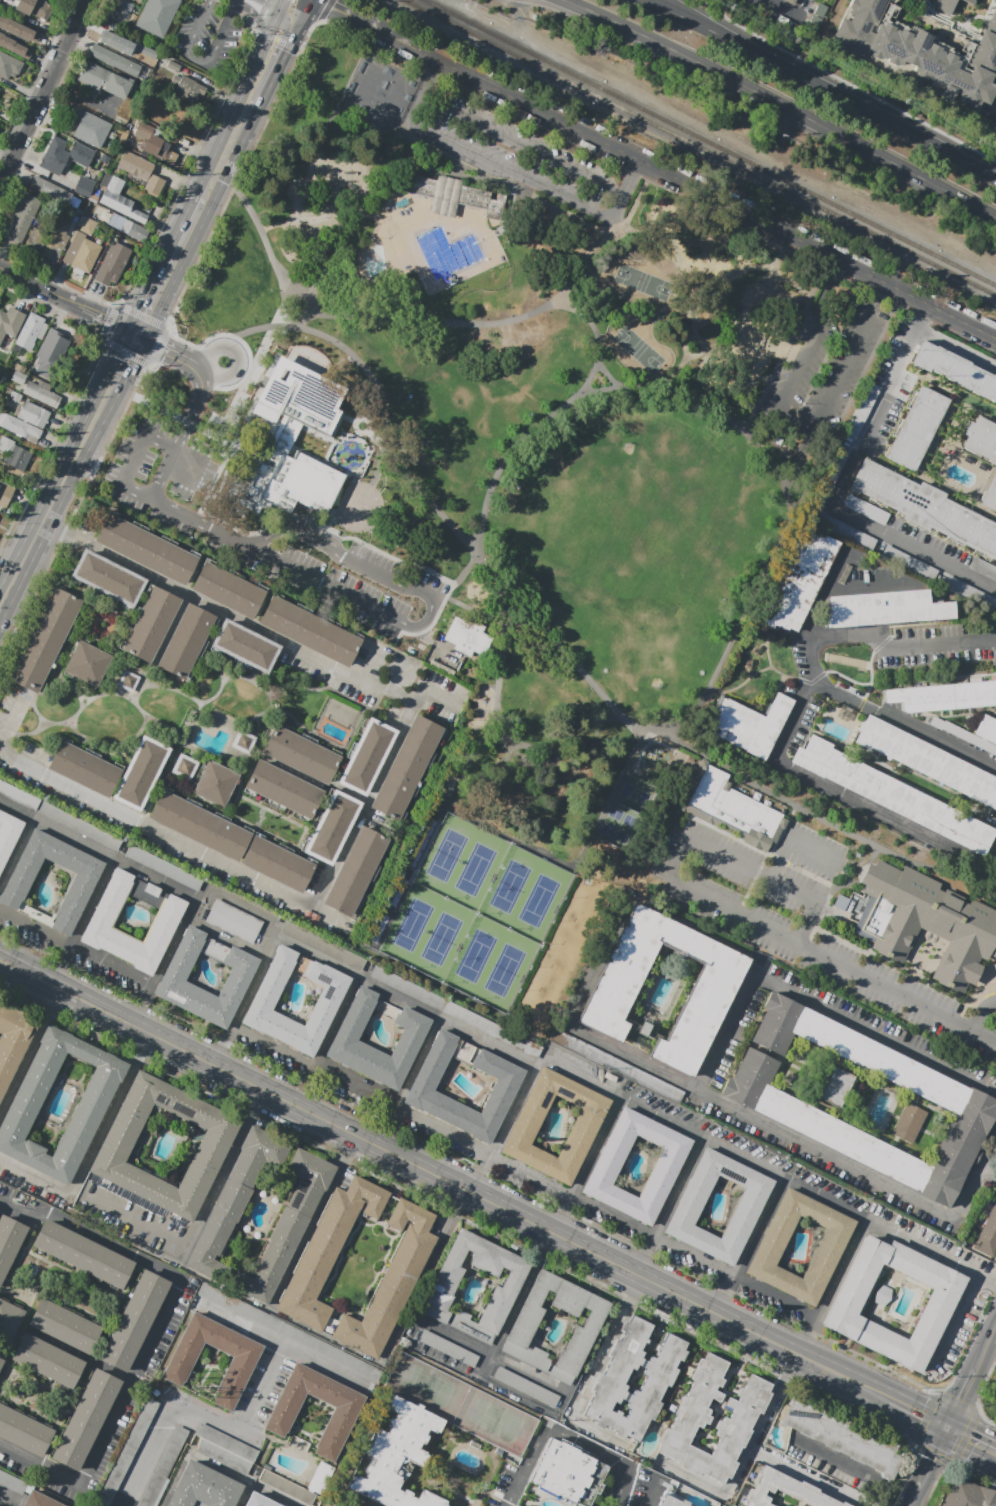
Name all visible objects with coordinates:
building: (125, 0)
building: (791, 1)
road: (920, 1)
building: (968, 2)
building: (152, 5)
building: (126, 6)
road: (265, 6)
road: (283, 6)
building: (944, 6)
building: (34, 8)
road: (784, 9)
road: (806, 9)
road: (304, 10)
traffic signals: (281, 12)
road: (347, 13)
building: (119, 14)
road: (289, 16)
road: (921, 19)
traffic signals: (298, 20)
road: (922, 22)
road: (949, 22)
road: (963, 24)
building: (148, 29)
building: (18, 30)
road: (269, 35)
parking lot: (207, 39)
building: (113, 40)
road: (285, 43)
building: (15, 47)
building: (922, 51)
building: (142, 53)
building: (115, 59)
road: (200, 62)
building: (174, 66)
building: (9, 67)
road: (262, 75)
road: (435, 79)
building: (103, 80)
road: (843, 81)
road: (821, 87)
road: (44, 89)
building: (189, 89)
park: (384, 95)
road: (993, 100)
road: (83, 101)
road: (780, 105)
building: (89, 127)
railway: (710, 143)
road: (410, 144)
railway: (700, 146)
building: (160, 148)
road: (6, 150)
parking lot: (520, 152)
building: (80, 154)
building: (51, 155)
road: (390, 160)
road: (358, 161)
road: (41, 170)
building: (141, 171)
road: (638, 182)
road: (686, 183)
road: (319, 184)
building: (83, 188)
building: (49, 189)
road: (362, 194)
road: (530, 195)
building: (453, 196)
road: (296, 198)
building: (120, 201)
road: (328, 202)
building: (29, 205)
road: (197, 213)
road: (356, 214)
road: (617, 221)
road: (286, 222)
building: (86, 225)
building: (18, 227)
building: (39, 231)
building: (134, 231)
building: (59, 234)
road: (264, 239)
road: (674, 239)
road: (553, 244)
building: (81, 253)
building: (112, 264)
street lamp: (411, 265)
road: (745, 270)
road: (594, 282)
park: (644, 282)
road: (180, 292)
road: (67, 301)
road: (308, 302)
road: (380, 308)
road: (682, 310)
building: (11, 322)
road: (252, 328)
building: (29, 331)
traffic signals: (135, 336)
road: (100, 338)
road: (958, 348)
road: (164, 349)
park: (641, 349)
building: (50, 353)
road: (236, 354)
parking lot: (829, 357)
road: (781, 358)
building: (20, 368)
building: (954, 369)
road: (199, 372)
building: (17, 377)
building: (11, 385)
road: (596, 390)
building: (41, 393)
building: (14, 396)
road: (230, 412)
road: (166, 413)
building: (33, 414)
road: (791, 425)
building: (19, 428)
building: (916, 428)
building: (980, 439)
road: (178, 440)
building: (286, 443)
road: (140, 446)
building: (14, 454)
road: (502, 470)
road: (68, 473)
park: (500, 474)
building: (828, 477)
road: (839, 488)
building: (5, 494)
building: (989, 494)
building: (926, 507)
building: (866, 509)
road: (185, 516)
parking lot: (183, 521)
park: (642, 531)
building: (847, 532)
building: (146, 549)
road: (389, 555)
building: (909, 563)
building: (983, 568)
building: (108, 577)
building: (799, 580)
building: (228, 590)
building: (969, 594)
road: (431, 606)
building: (884, 608)
road: (743, 611)
road: (479, 613)
building: (151, 625)
building: (310, 631)
road: (855, 635)
building: (468, 637)
building: (45, 639)
building: (186, 641)
road: (944, 645)
building: (245, 646)
road: (766, 646)
building: (87, 663)
road: (762, 669)
building: (128, 681)
building: (942, 696)
road: (887, 716)
road: (2, 720)
building: (748, 724)
road: (2, 726)
building: (243, 741)
road: (541, 745)
building: (984, 745)
building: (300, 754)
building: (367, 756)
building: (927, 761)
building: (185, 767)
building: (406, 767)
building: (84, 769)
building: (141, 773)
road: (378, 779)
building: (215, 784)
building: (446, 784)
building: (283, 789)
road: (842, 795)
building: (892, 795)
building: (18, 796)
park: (637, 796)
building: (733, 807)
road: (465, 815)
park: (610, 821)
road: (829, 822)
building: (199, 826)
building: (79, 827)
building: (332, 827)
park: (626, 829)
building: (8, 835)
road: (793, 838)
road: (16, 851)
road: (991, 855)
building: (277, 864)
building: (995, 864)
building: (162, 867)
road: (751, 870)
building: (356, 871)
building: (81, 884)
building: (151, 890)
park: (478, 913)
building: (103, 915)
parking lot: (796, 919)
building: (234, 921)
building: (922, 921)
road: (83, 922)
road: (225, 937)
road: (76, 946)
road: (818, 952)
building: (352, 960)
road: (163, 962)
road: (27, 972)
building: (241, 973)
building: (399, 983)
building: (613, 992)
building: (328, 997)
road: (244, 1000)
road: (50, 1005)
building: (462, 1014)
road: (973, 1023)
road: (573, 1029)
building: (413, 1033)
road: (490, 1039)
building: (13, 1041)
road: (326, 1041)
road: (142, 1044)
road: (21, 1066)
road: (407, 1081)
building: (423, 1084)
road: (702, 1084)
building: (835, 1085)
building: (95, 1096)
building: (758, 1099)
road: (256, 1100)
building: (908, 1123)
building: (525, 1126)
road: (503, 1127)
building: (212, 1146)
road: (993, 1148)
road: (85, 1160)
road: (586, 1164)
building: (665, 1167)
road: (522, 1172)
road: (987, 1173)
road: (219, 1177)
road: (442, 1180)
road: (668, 1205)
building: (748, 1206)
building: (991, 1217)
road: (137, 1218)
building: (222, 1218)
road: (311, 1221)
building: (986, 1240)
building: (9, 1243)
road: (749, 1245)
building: (828, 1248)
building: (82, 1254)
building: (312, 1268)
road: (830, 1285)
building: (443, 1286)
road: (420, 1294)
building: (846, 1301)
road: (517, 1306)
building: (9, 1321)
building: (134, 1321)
road: (954, 1323)
building: (64, 1325)
building: (524, 1326)
building: (286, 1331)
road: (156, 1333)
road: (279, 1344)
road: (984, 1347)
road: (77, 1356)
building: (48, 1360)
building: (1, 1363)
building: (178, 1367)
road: (590, 1376)
building: (611, 1381)
road: (853, 1383)
building: (525, 1386)
road: (258, 1389)
road: (526, 1397)
road: (959, 1399)
park: (459, 1405)
road: (910, 1411)
road: (169, 1412)
building: (342, 1418)
building: (85, 1419)
building: (693, 1419)
traffic signals: (945, 1429)
building: (23, 1431)
building: (839, 1433)
road: (560, 1438)
road: (970, 1441)
building: (225, 1449)
building: (397, 1456)
road: (935, 1459)
road: (744, 1460)
building: (120, 1465)
building: (163, 1467)
road: (854, 1468)
building: (567, 1473)
road: (806, 1478)
road: (174, 1479)
road: (240, 1479)
building: (12, 1483)
parking lot: (12, 1483)
parking lot: (509, 1484)
building: (202, 1487)
building: (287, 1487)
parking lot: (647, 1488)
building: (786, 1490)
road: (651, 1493)
road: (243, 1495)
building: (962, 1496)
road: (917, 1497)
road: (8, 1500)
building: (39, 1500)
building: (258, 1500)
road: (3, 1502)
building: (671, 1502)
parking lot: (720, 1505)

